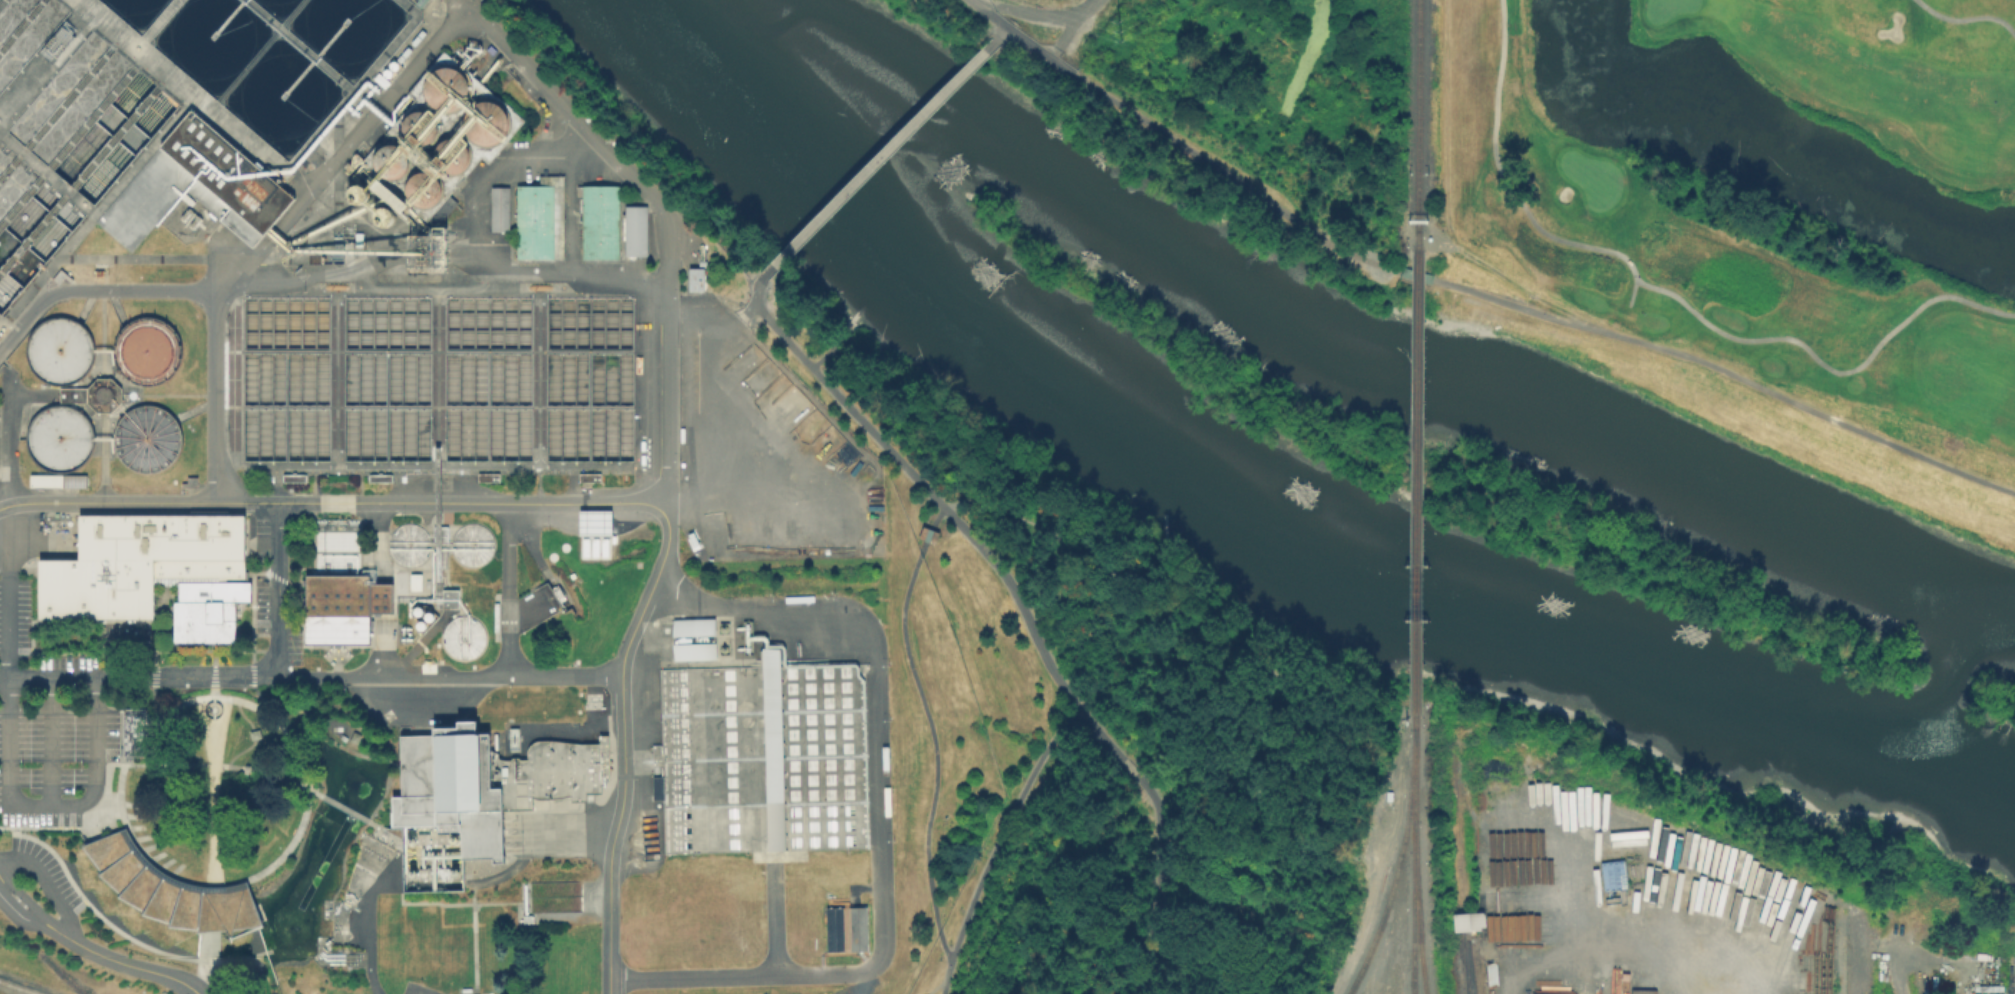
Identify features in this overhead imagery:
road: (990, 12)
road: (1967, 17)
wastewater plant: (1060, 21)
road: (996, 37)
road: (1042, 49)
building: (446, 86)
building: (486, 120)
building: (419, 124)
railway: (1417, 124)
road: (590, 135)
building: (452, 152)
road: (879, 157)
building: (389, 159)
building: (225, 170)
park: (1766, 186)
building: (422, 187)
road: (1445, 202)
building: (498, 208)
building: (538, 217)
building: (599, 220)
building: (634, 228)
road: (276, 229)
building: (1416, 274)
building: (695, 277)
road: (95, 288)
road: (1673, 295)
road: (1531, 310)
road: (718, 336)
building: (152, 349)
road: (830, 349)
building: (64, 350)
building: (98, 394)
park: (1768, 417)
building: (151, 437)
building: (64, 438)
road: (665, 456)
building: (487, 476)
building: (588, 476)
building: (61, 480)
building: (193, 482)
railway: (1415, 484)
road: (332, 500)
road: (940, 502)
road: (936, 515)
building: (927, 532)
road: (928, 533)
wastewater plant: (433, 538)
road: (380, 541)
building: (472, 541)
building: (407, 542)
building: (155, 572)
road: (271, 587)
road: (506, 588)
road: (381, 597)
building: (341, 605)
building: (692, 626)
building: (463, 634)
road: (381, 643)
building: (693, 650)
road: (310, 674)
park: (1107, 715)
building: (133, 731)
road: (50, 739)
road: (934, 747)
road: (8, 751)
building: (761, 757)
road: (1129, 764)
building: (476, 794)
road: (876, 818)
road: (997, 844)
railway: (1413, 856)
railway: (1396, 868)
railway: (1458, 875)
road: (0, 877)
road: (1159, 881)
road: (47, 882)
building: (169, 887)
road: (24, 895)
railway: (1416, 901)
road: (14, 904)
road: (1370, 909)
building: (1466, 920)
road: (119, 960)
railway: (60, 971)
road: (207, 976)
railway: (19, 987)
railway: (1603, 989)

